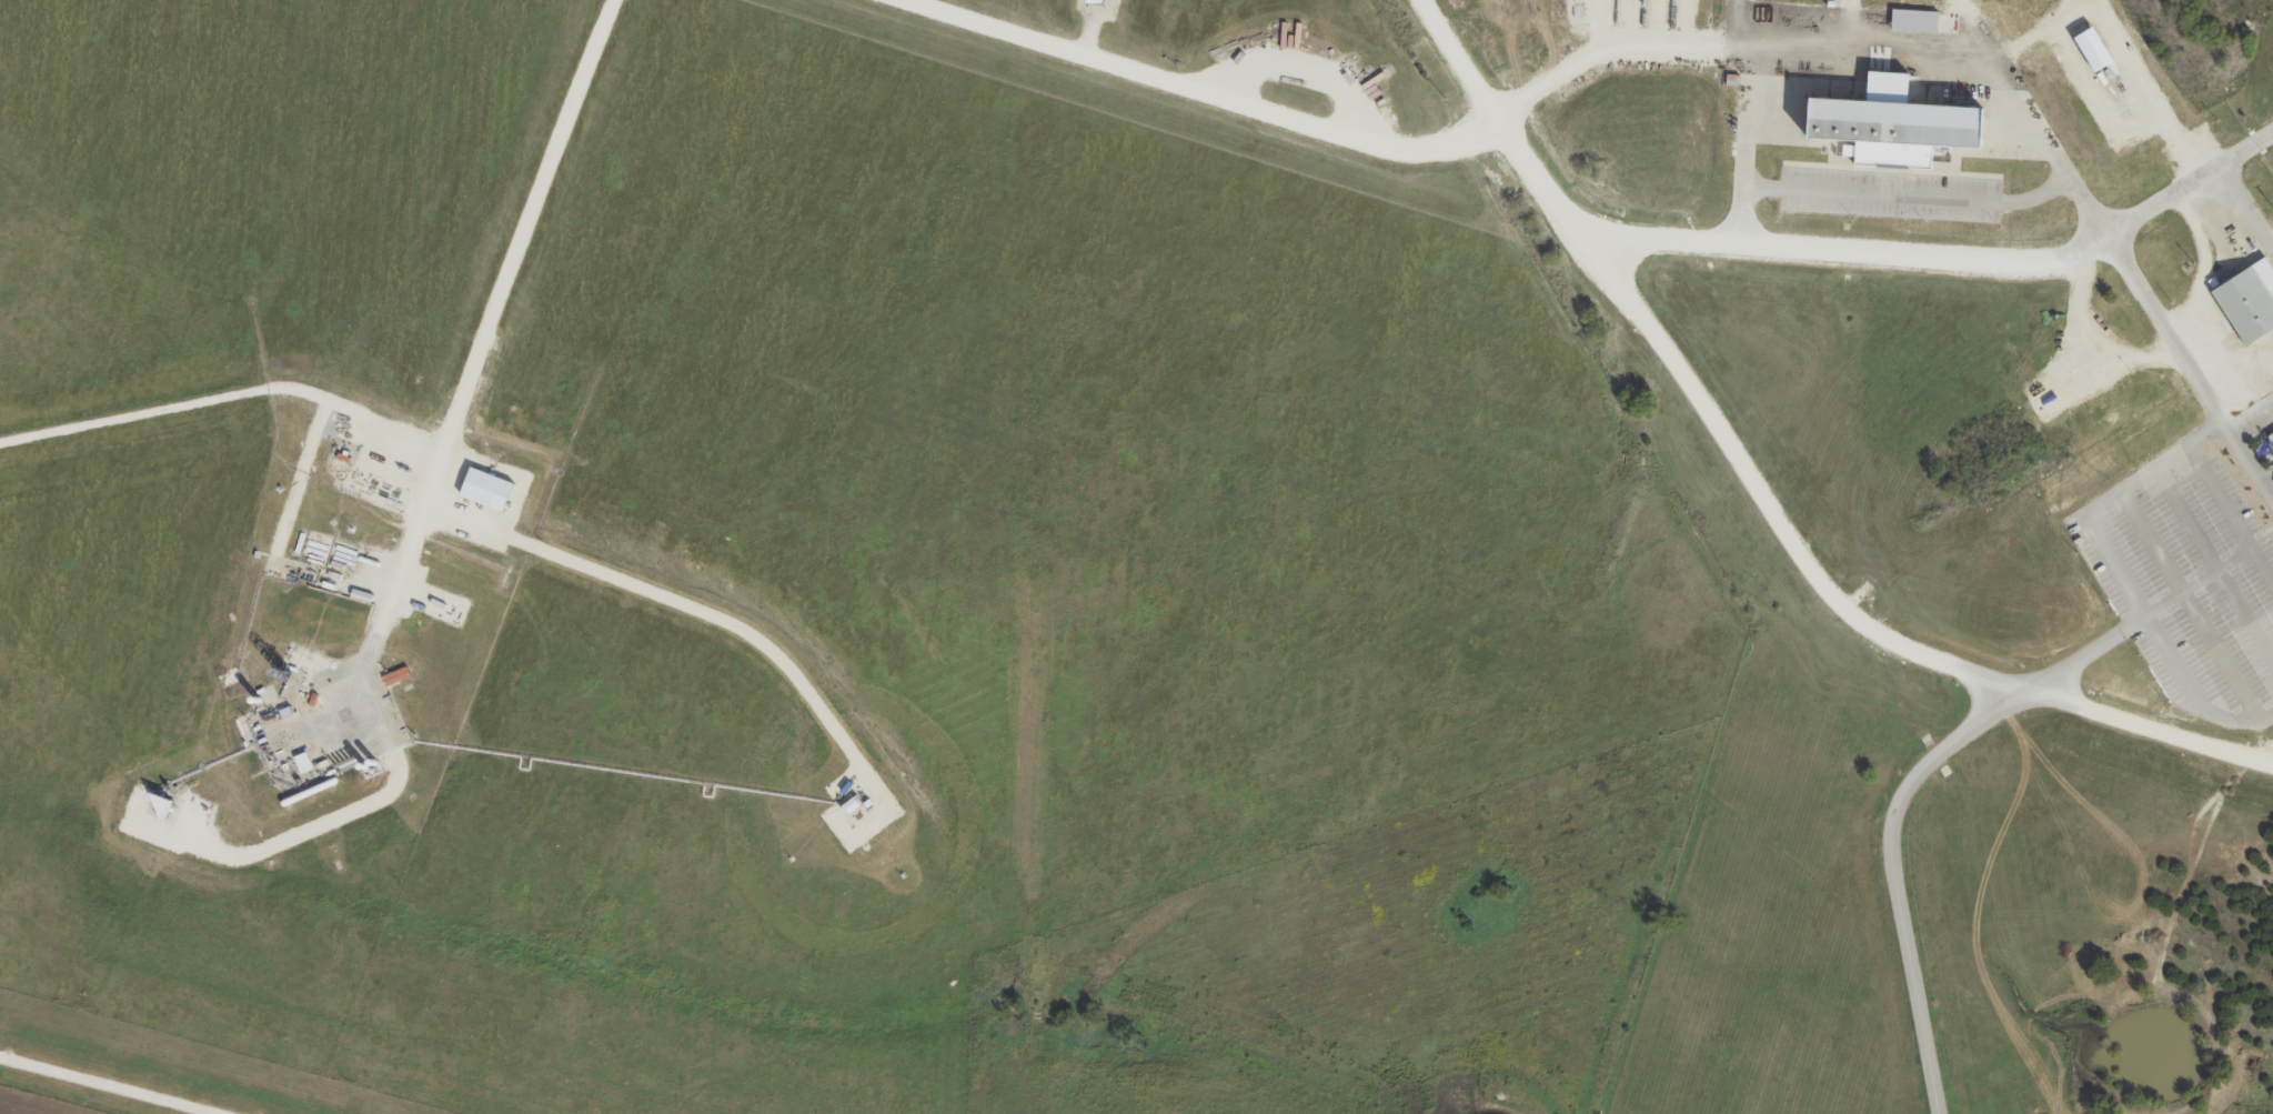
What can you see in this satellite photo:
road: (1733, 23)
road: (1969, 29)
road: (2038, 31)
building: (2090, 42)
road: (1836, 51)
road: (1305, 69)
road: (2145, 87)
road: (1199, 93)
railway: (2193, 126)
building: (1893, 131)
road: (1742, 147)
parking lot: (1889, 193)
road: (1908, 194)
road: (2246, 205)
road: (1842, 251)
road: (2138, 282)
building: (2245, 304)
road: (2099, 338)
road: (472, 357)
road: (223, 395)
building: (2044, 397)
road: (2251, 414)
building: (2092, 443)
parking lot: (2271, 468)
road: (298, 482)
building: (483, 484)
road: (2216, 492)
road: (1760, 493)
road: (2182, 514)
road: (2267, 525)
road: (2110, 568)
parking lot: (2185, 579)
road: (2158, 601)
road: (2185, 602)
road: (691, 606)
road: (2243, 613)
building: (286, 675)
building: (260, 699)
storage tank: (260, 699)
building: (373, 762)
storage tank: (373, 762)
building: (365, 765)
storage tank: (365, 765)
building: (312, 790)
storage tank: (312, 790)
road: (328, 821)
road: (1892, 870)
road: (122, 1080)

